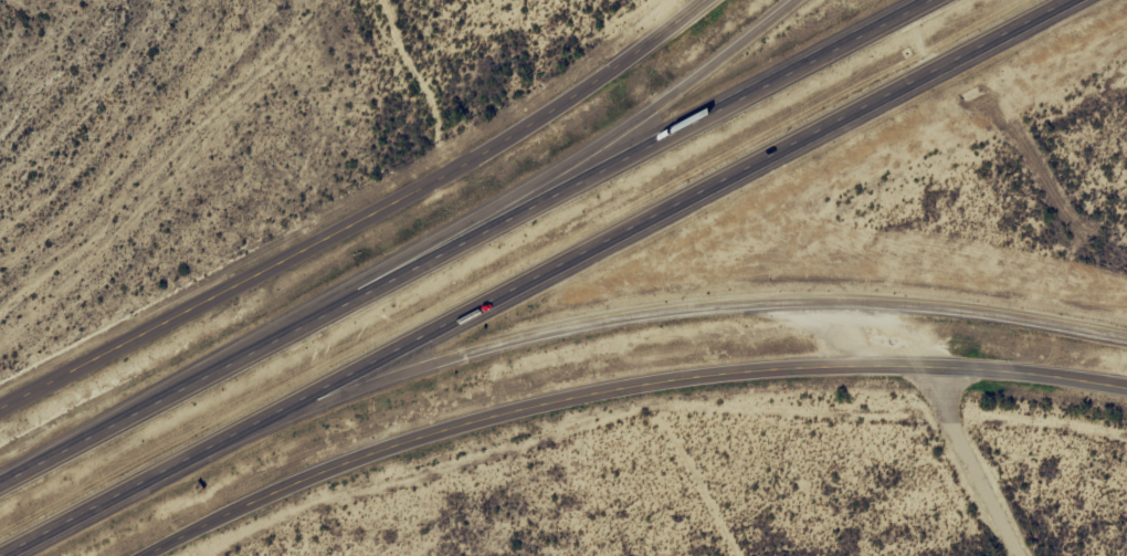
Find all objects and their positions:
road: (594, 149)
road: (362, 219)
road: (461, 241)
road: (540, 277)
road: (666, 311)
road: (613, 388)

